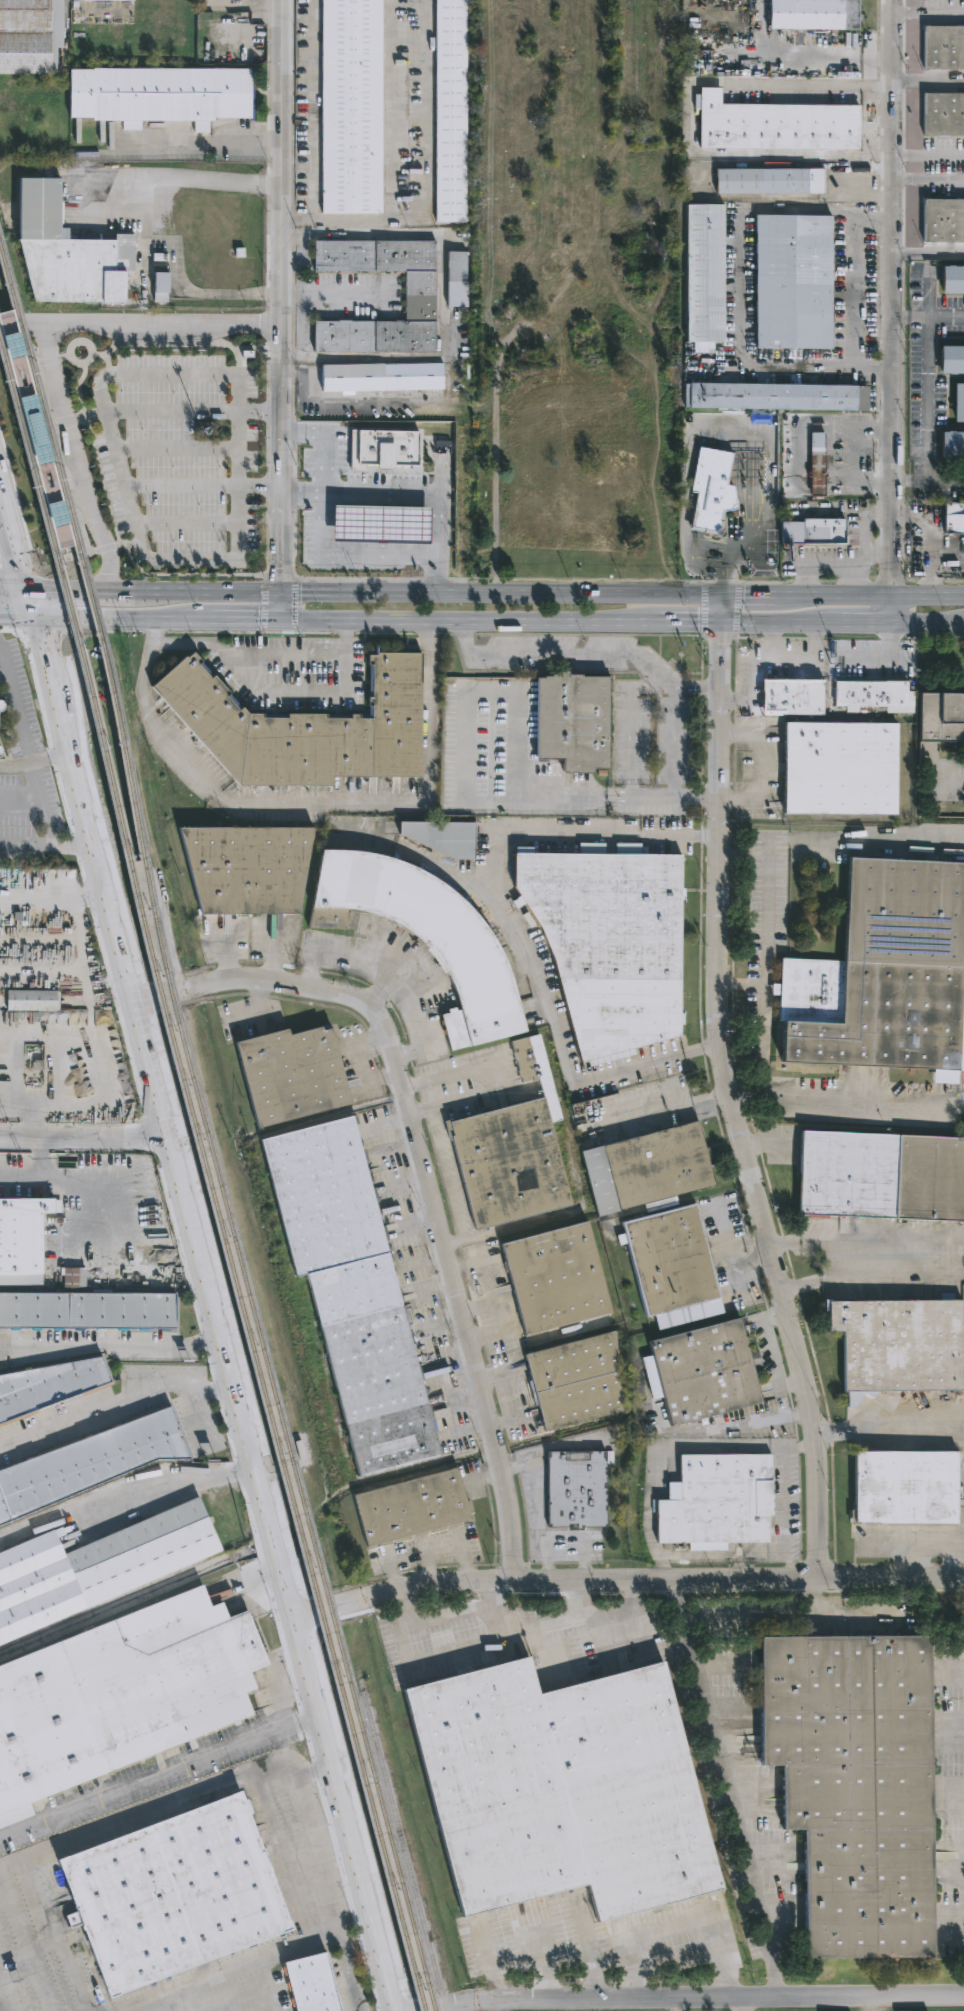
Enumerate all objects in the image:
building: (227, 0)
building: (130, 10)
building: (813, 15)
road: (928, 15)
building: (695, 18)
building: (30, 37)
building: (943, 48)
road: (928, 81)
building: (158, 97)
building: (349, 106)
road: (311, 110)
building: (450, 111)
road: (693, 115)
building: (943, 115)
building: (774, 125)
road: (425, 126)
road: (201, 143)
road: (928, 154)
road: (279, 162)
road: (388, 163)
road: (928, 179)
building: (768, 180)
building: (942, 220)
road: (140, 227)
building: (63, 251)
road: (928, 252)
building: (703, 272)
building: (455, 278)
building: (952, 278)
building: (792, 281)
railway: (8, 283)
road: (738, 285)
building: (161, 286)
road: (855, 291)
road: (330, 295)
building: (418, 296)
road: (441, 298)
road: (891, 313)
road: (909, 318)
road: (157, 324)
road: (18, 325)
building: (15, 342)
building: (951, 358)
building: (379, 375)
road: (956, 378)
building: (771, 395)
road: (928, 400)
building: (958, 401)
road: (330, 403)
road: (69, 419)
road: (954, 428)
road: (743, 437)
road: (111, 440)
railway: (25, 441)
road: (329, 442)
building: (952, 444)
building: (384, 449)
road: (176, 450)
road: (861, 458)
parking lot: (177, 459)
road: (278, 459)
building: (816, 459)
road: (74, 463)
road: (876, 464)
road: (237, 465)
road: (750, 469)
building: (721, 482)
road: (70, 489)
road: (404, 497)
road: (2, 505)
road: (8, 518)
building: (954, 520)
building: (381, 523)
gas station: (381, 523)
road: (186, 525)
building: (62, 526)
railway: (75, 529)
building: (340, 532)
railway: (69, 533)
building: (816, 538)
road: (740, 543)
road: (106, 548)
road: (879, 549)
road: (8, 553)
road: (349, 553)
road: (854, 565)
road: (68, 566)
road: (19, 572)
road: (22, 573)
road: (185, 574)
road: (278, 576)
road: (851, 581)
road: (720, 582)
road: (12, 590)
traffic signals: (25, 591)
road: (59, 592)
road: (121, 594)
road: (213, 594)
traffic signals: (278, 595)
road: (620, 596)
traffic signals: (723, 597)
road: (262, 603)
road: (293, 603)
road: (28, 606)
road: (278, 609)
road: (702, 610)
road: (736, 610)
road: (16, 620)
traffic signals: (32, 621)
road: (93, 622)
road: (185, 623)
road: (246, 624)
traffic signals: (278, 624)
road: (620, 625)
traffic signals: (723, 626)
road: (6, 631)
road: (179, 631)
road: (39, 632)
road: (936, 637)
road: (718, 638)
road: (769, 643)
road: (561, 650)
road: (883, 660)
road: (768, 661)
road: (3, 675)
road: (50, 688)
road: (697, 688)
building: (869, 693)
road: (272, 694)
building: (784, 697)
building: (1, 704)
road: (14, 706)
building: (0, 712)
building: (941, 717)
building: (570, 721)
building: (301, 728)
road: (464, 738)
road: (672, 743)
road: (632, 746)
building: (0, 750)
building: (839, 768)
road: (771, 770)
road: (34, 783)
road: (663, 797)
road: (309, 806)
road: (680, 836)
building: (440, 837)
road: (779, 840)
road: (876, 840)
road: (47, 845)
building: (243, 869)
building: (428, 936)
building: (607, 944)
road: (526, 946)
road: (271, 951)
road: (223, 954)
road: (766, 969)
road: (389, 974)
building: (883, 977)
road: (742, 984)
road: (377, 988)
building: (31, 1000)
road: (367, 1039)
road: (702, 1048)
road: (450, 1075)
building: (288, 1076)
road: (377, 1077)
road: (731, 1091)
road: (479, 1095)
road: (750, 1098)
road: (866, 1102)
road: (418, 1111)
road: (87, 1137)
railway: (216, 1164)
building: (506, 1165)
building: (648, 1170)
road: (35, 1171)
road: (423, 1173)
road: (445, 1174)
building: (880, 1178)
road: (204, 1223)
road: (723, 1235)
road: (881, 1238)
building: (23, 1242)
road: (452, 1243)
road: (772, 1250)
parking lot: (727, 1253)
road: (739, 1260)
building: (671, 1267)
railway: (234, 1274)
road: (735, 1276)
road: (872, 1277)
building: (553, 1278)
road: (489, 1288)
building: (348, 1292)
building: (87, 1307)
building: (897, 1343)
road: (112, 1347)
building: (701, 1372)
building: (573, 1380)
road: (237, 1382)
building: (46, 1384)
road: (125, 1399)
road: (200, 1418)
road: (801, 1446)
road: (539, 1453)
building: (87, 1461)
building: (904, 1486)
building: (574, 1489)
road: (127, 1496)
building: (715, 1501)
road: (539, 1502)
building: (414, 1509)
road: (786, 1512)
road: (710, 1553)
road: (583, 1558)
building: (94, 1565)
road: (737, 1565)
road: (628, 1580)
road: (629, 1596)
road: (818, 1596)
road: (580, 1600)
road: (801, 1615)
road: (432, 1620)
road: (544, 1622)
road: (948, 1672)
building: (121, 1696)
road: (949, 1725)
road: (161, 1775)
building: (853, 1786)
road: (730, 1787)
building: (558, 1789)
road: (950, 1793)
road: (172, 1799)
railway: (401, 1846)
road: (949, 1847)
road: (949, 1868)
road: (330, 1893)
building: (171, 1894)
road: (949, 1926)
road: (678, 1928)
road: (54, 1935)
road: (588, 1946)
road: (24, 1947)
road: (27, 1947)
road: (607, 1947)
road: (539, 1953)
road: (488, 1961)
road: (242, 1969)
building: (310, 1983)
road: (697, 1999)
road: (741, 2004)
road: (673, 2005)
road: (1, 2006)
road: (498, 2006)

